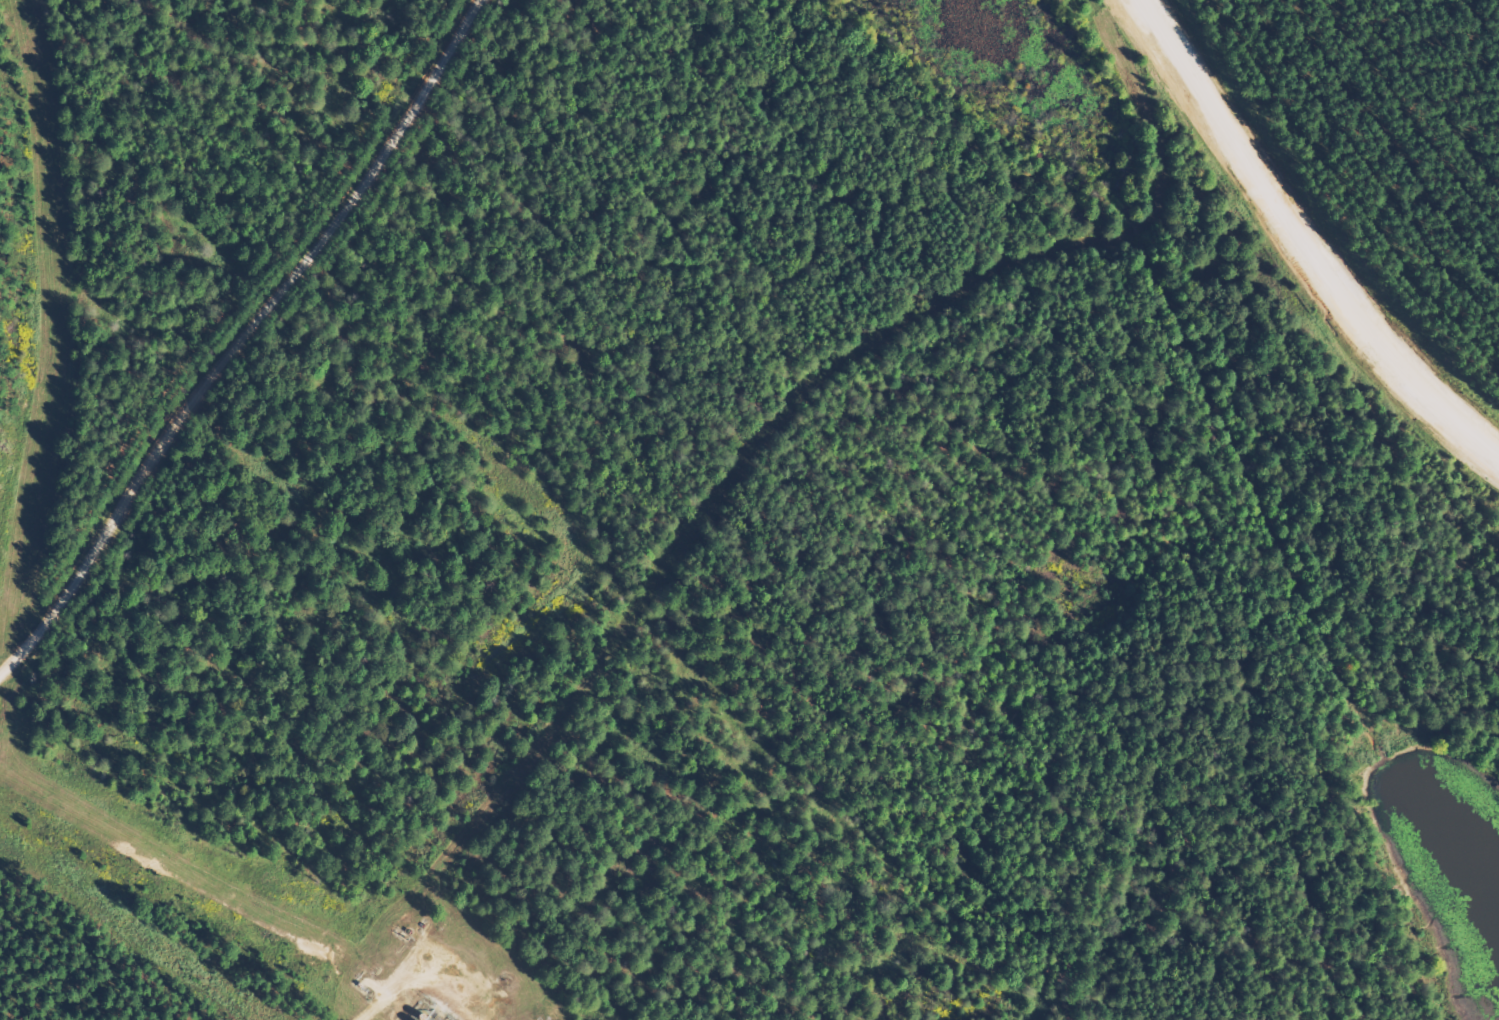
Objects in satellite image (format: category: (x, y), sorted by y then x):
road: (1299, 247)
road: (241, 337)
road: (378, 1001)

